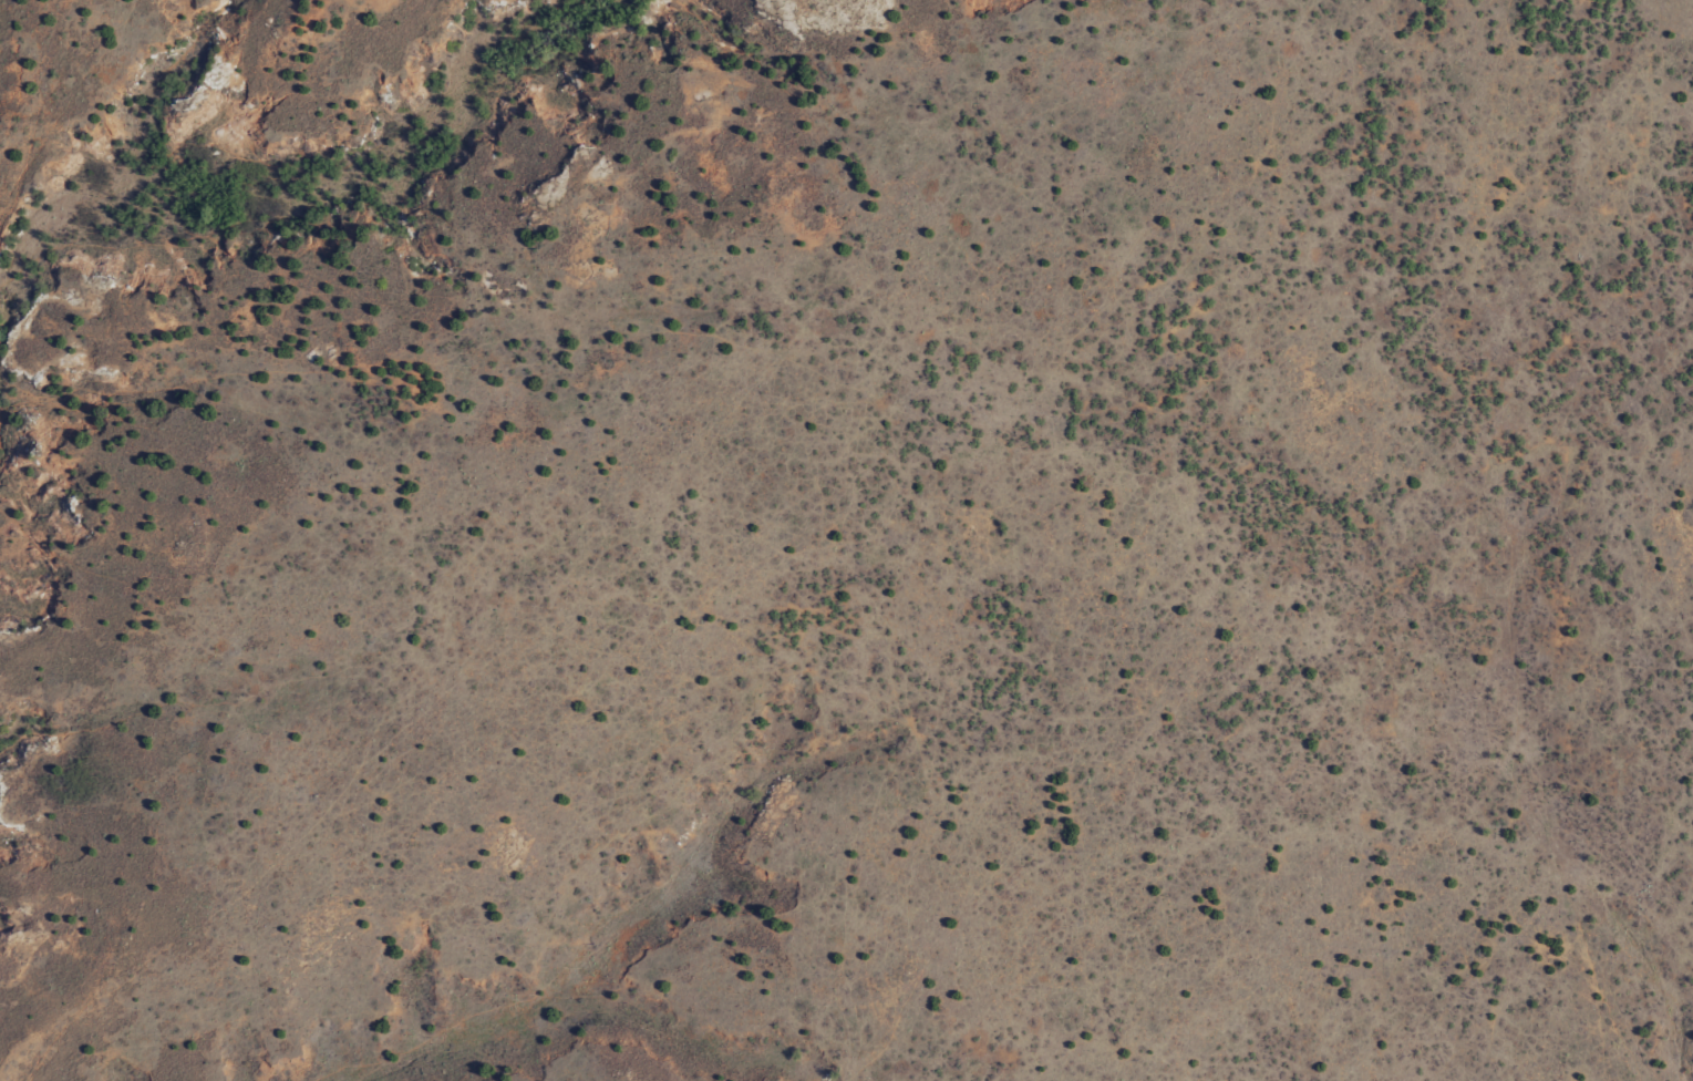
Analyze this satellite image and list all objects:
road: (1487, 916)

